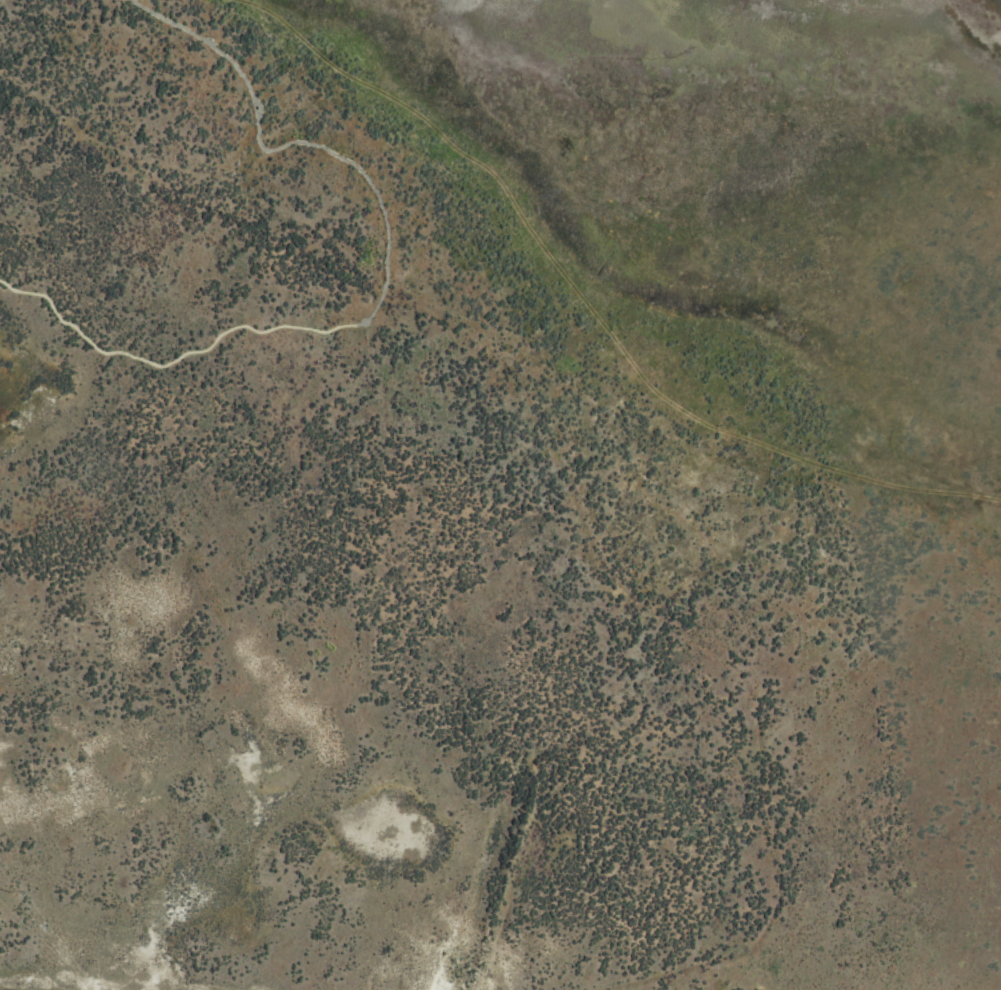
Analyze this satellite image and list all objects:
crop: (500, 495)

